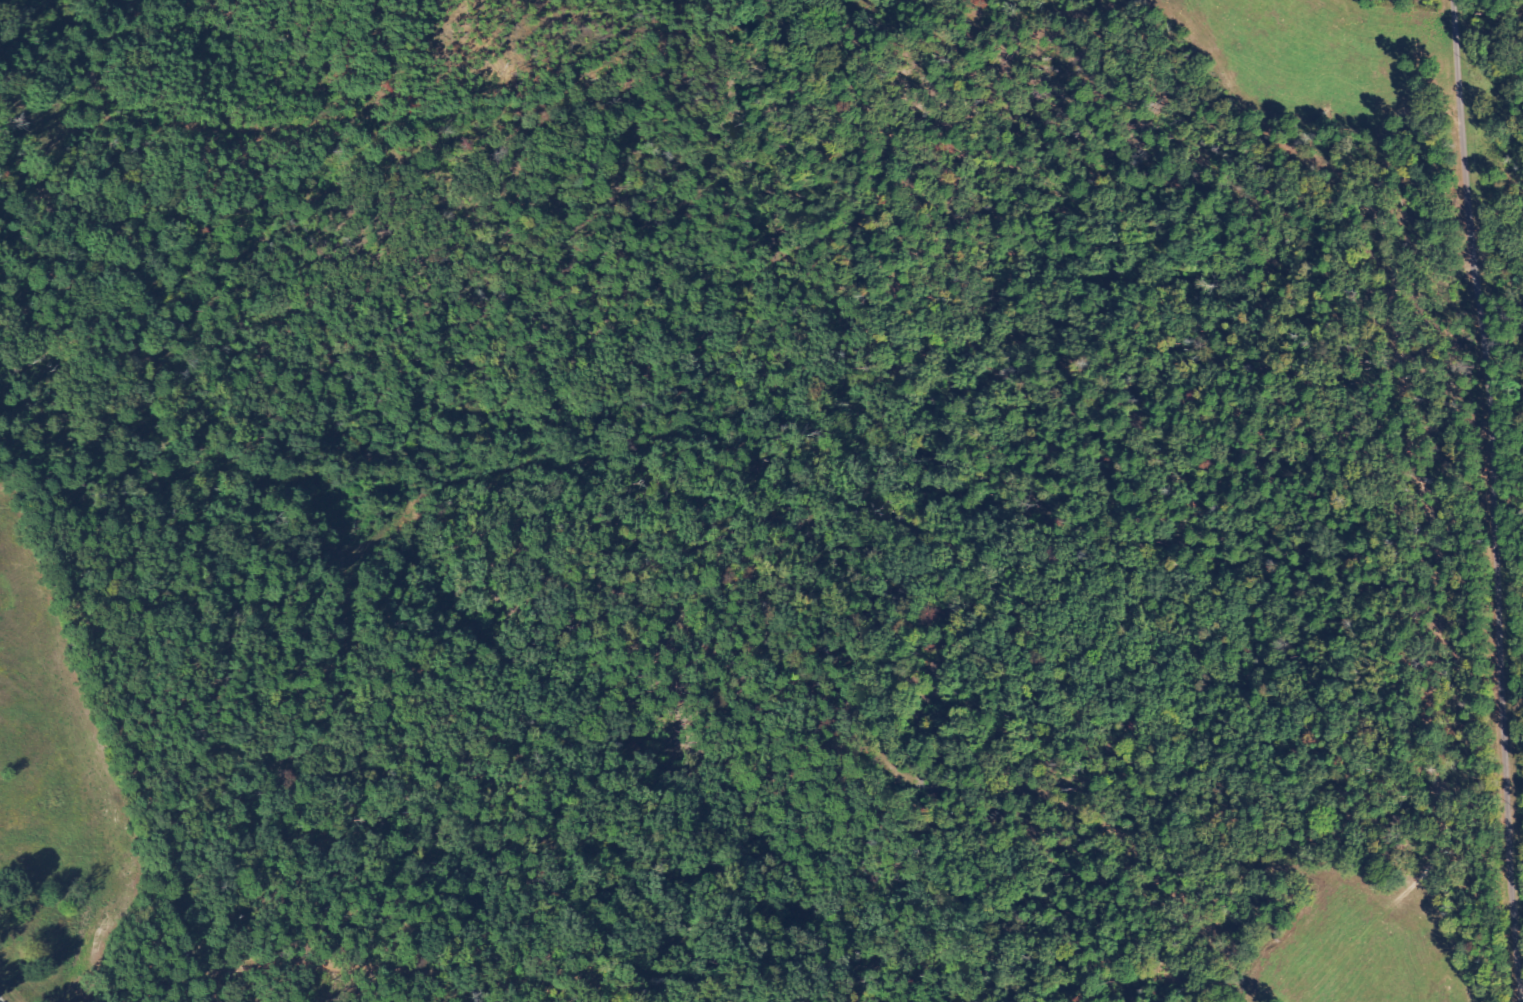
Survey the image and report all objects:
road: (1459, 857)

